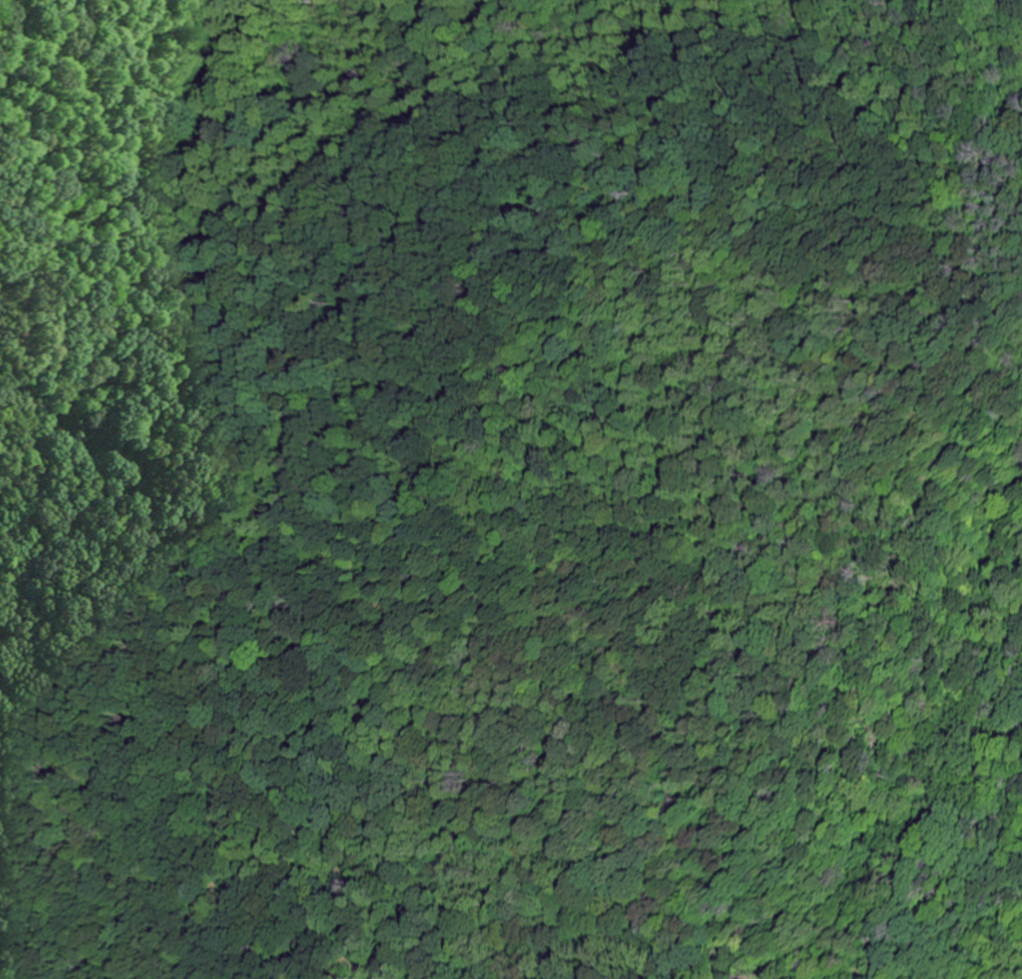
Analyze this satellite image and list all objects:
road: (170, 269)

